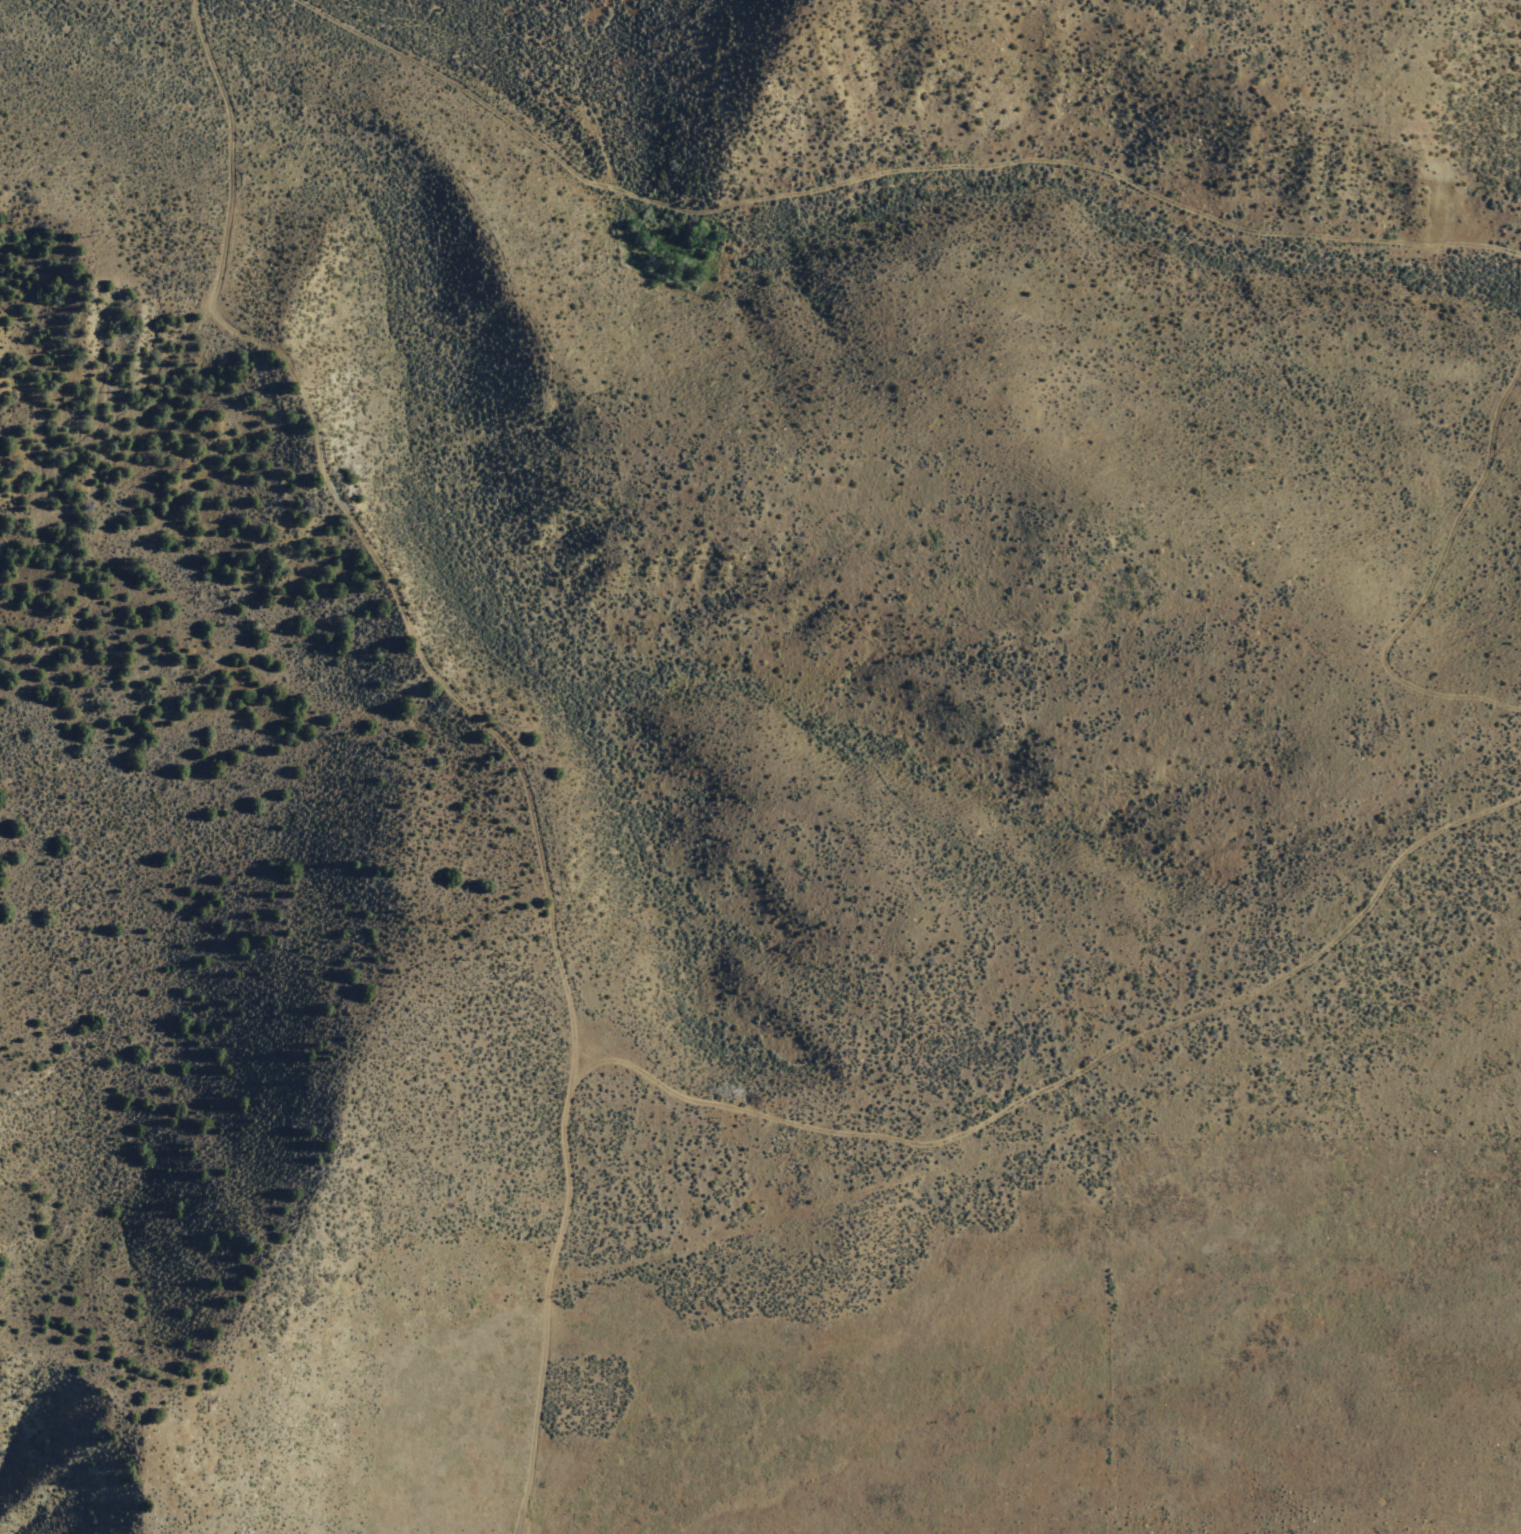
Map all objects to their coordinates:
crop: (234, 98)
road: (883, 169)
road: (363, 549)
road: (1429, 552)
road: (1322, 950)
road: (630, 1093)
crop: (655, 1301)

